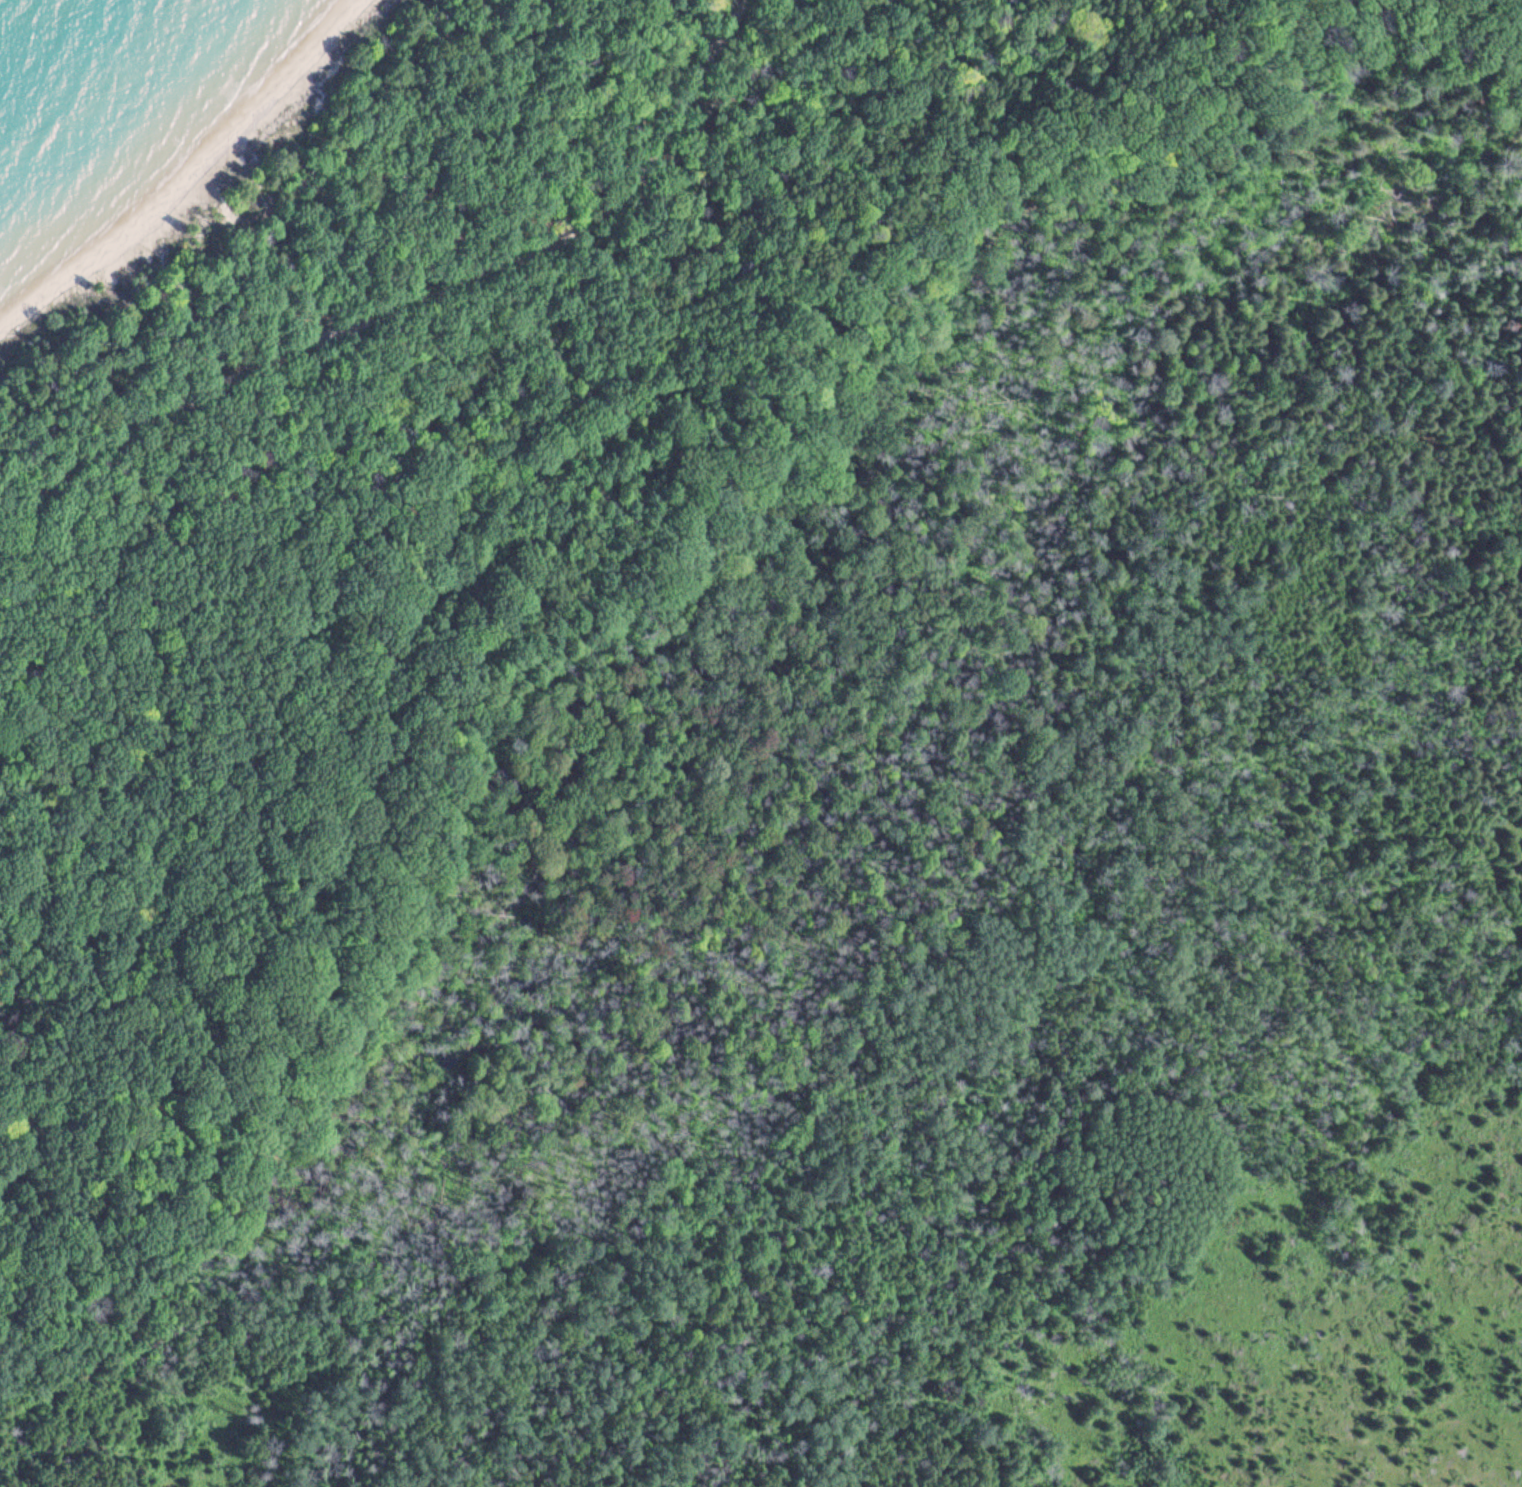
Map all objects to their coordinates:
road: (409, 303)
road: (587, 582)
park: (774, 756)
road: (62, 1437)

